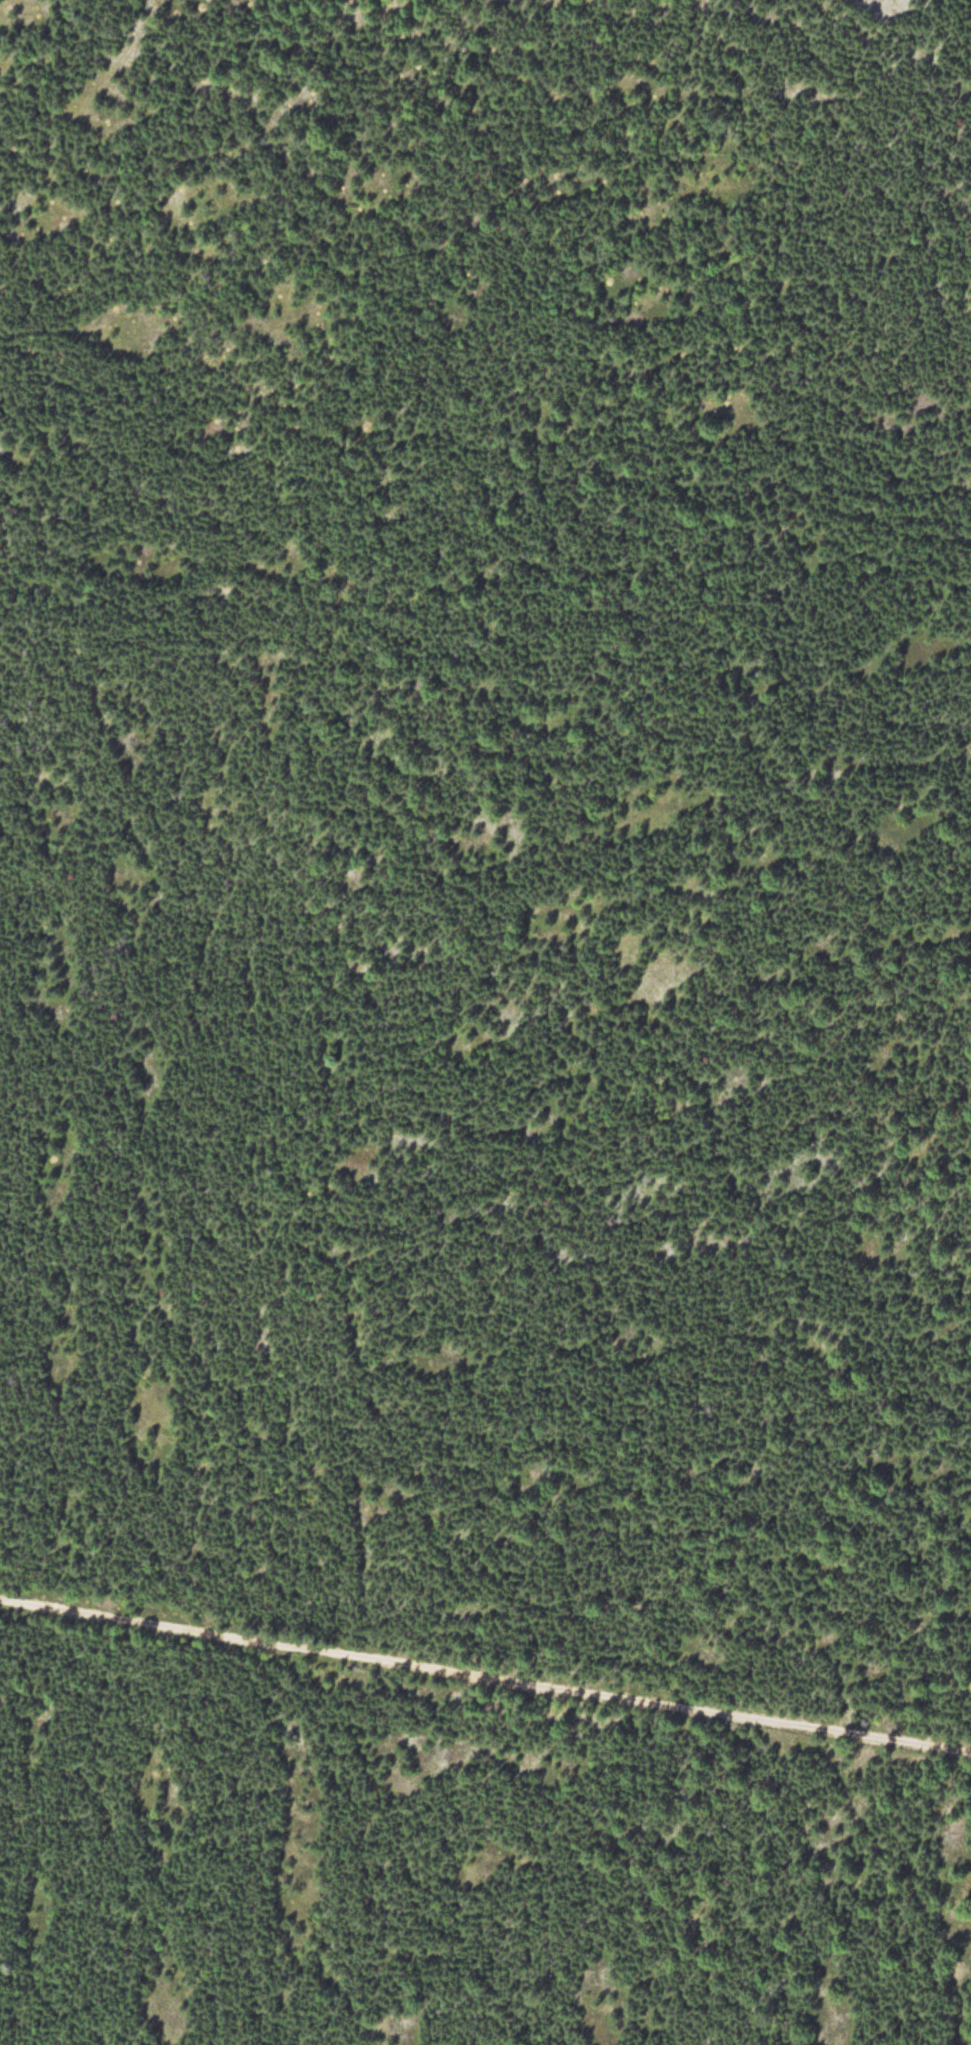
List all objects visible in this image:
road: (485, 1668)

